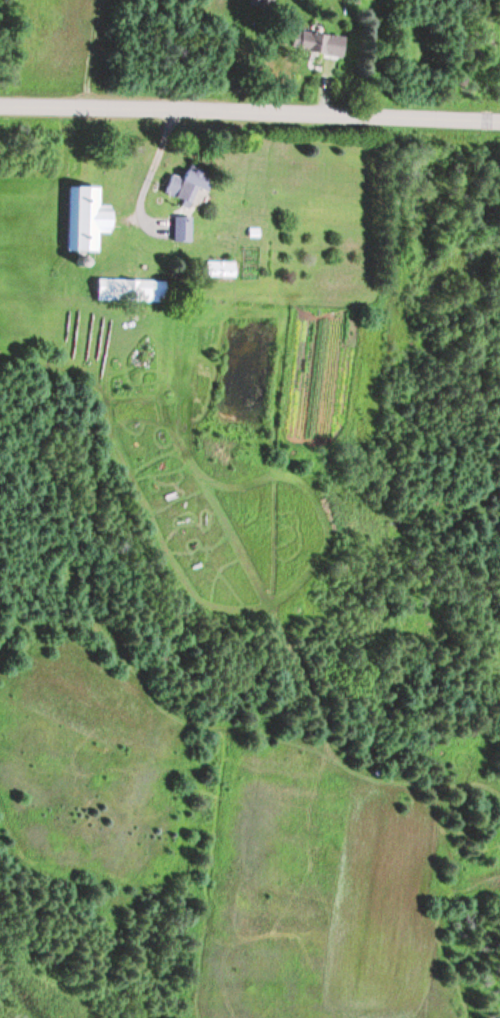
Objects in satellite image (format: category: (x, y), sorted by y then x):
building: (259, 3)
building: (315, 44)
road: (250, 111)
building: (184, 184)
building: (84, 217)
building: (179, 228)
building: (219, 268)
building: (128, 289)

